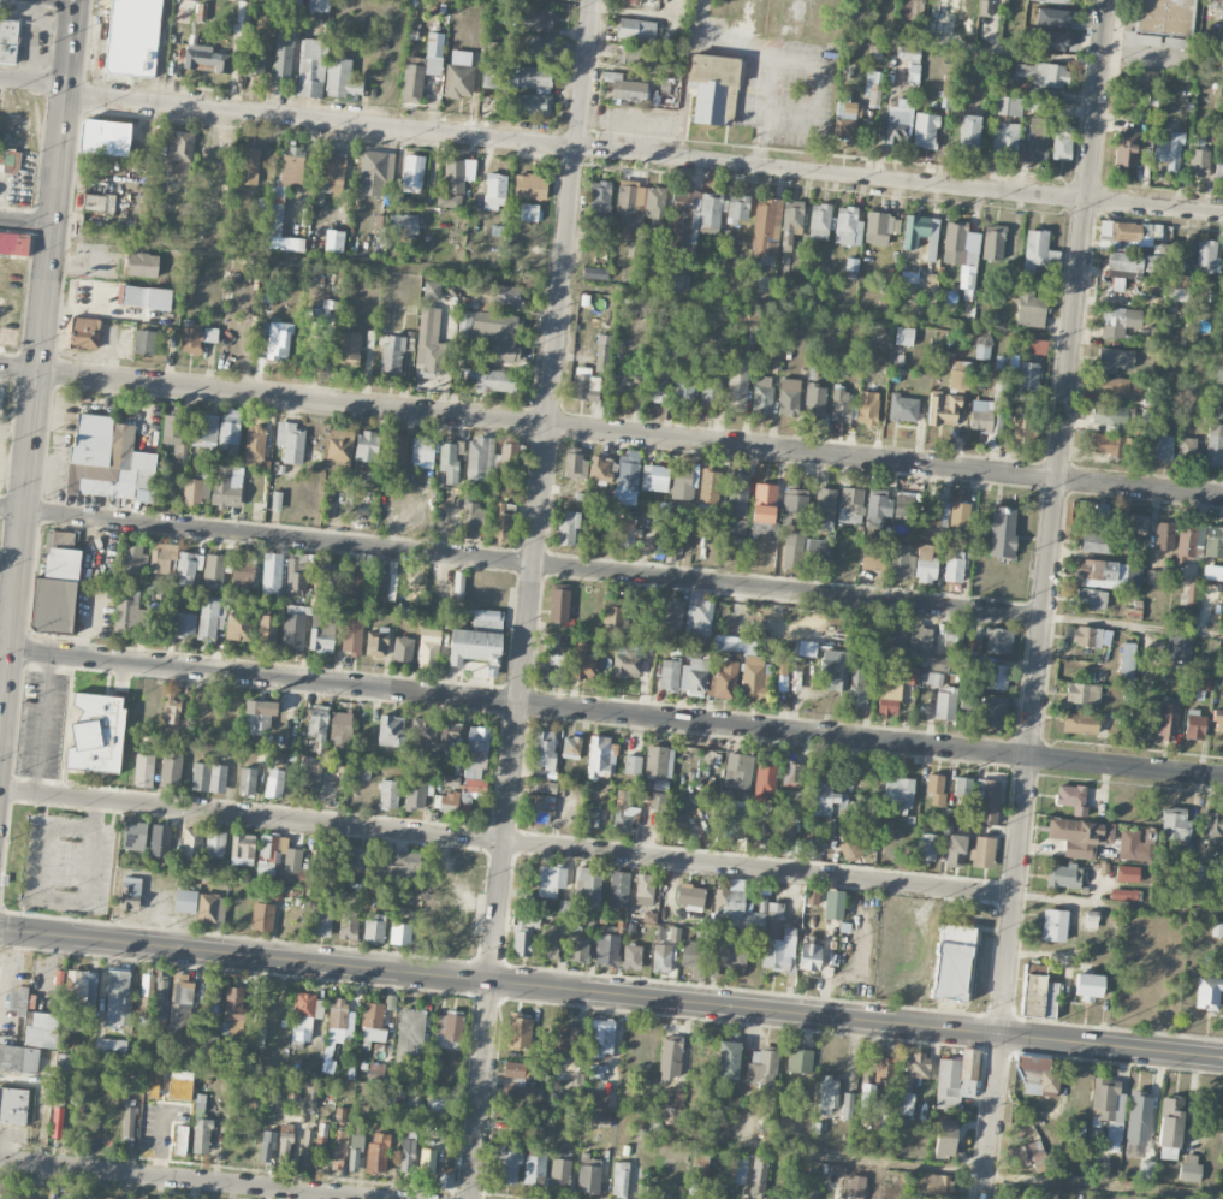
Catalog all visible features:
building: (192, 0)
building: (954, 0)
building: (1051, 0)
building: (1215, 1)
building: (291, 5)
building: (319, 6)
building: (908, 8)
road: (589, 10)
building: (201, 11)
building: (986, 12)
building: (1164, 17)
building: (1051, 18)
building: (536, 20)
building: (636, 30)
building: (133, 37)
building: (1049, 40)
building: (1140, 40)
building: (8, 42)
building: (539, 47)
building: (493, 51)
building: (283, 54)
building: (630, 54)
road: (1034, 54)
road: (767, 55)
building: (206, 59)
building: (255, 60)
building: (422, 67)
building: (311, 69)
building: (1040, 73)
building: (517, 77)
building: (340, 79)
building: (459, 79)
road: (31, 82)
building: (1147, 84)
building: (873, 88)
building: (624, 89)
building: (713, 89)
building: (532, 105)
building: (1009, 106)
building: (845, 120)
building: (898, 121)
building: (925, 131)
building: (968, 132)
building: (103, 137)
building: (1004, 140)
building: (1034, 142)
building: (1061, 142)
building: (1126, 149)
building: (1169, 152)
building: (180, 153)
road: (642, 153)
building: (10, 161)
building: (1198, 162)
building: (248, 166)
building: (1218, 166)
building: (292, 167)
building: (333, 172)
building: (458, 172)
building: (373, 173)
building: (412, 173)
building: (529, 186)
building: (494, 191)
building: (449, 201)
building: (600, 201)
building: (99, 203)
building: (639, 206)
building: (737, 209)
road: (25, 220)
building: (819, 221)
building: (710, 222)
building: (791, 222)
building: (403, 226)
building: (766, 226)
building: (848, 227)
building: (880, 228)
building: (275, 231)
building: (1128, 232)
building: (921, 235)
building: (333, 241)
building: (13, 243)
building: (958, 243)
building: (992, 243)
building: (1035, 250)
building: (1206, 256)
building: (1136, 261)
building: (142, 265)
building: (754, 267)
building: (594, 273)
building: (673, 280)
building: (1179, 287)
building: (431, 291)
building: (495, 296)
building: (147, 297)
building: (1029, 309)
building: (321, 310)
building: (1115, 322)
building: (84, 333)
building: (209, 334)
building: (497, 334)
building: (903, 336)
building: (228, 338)
building: (190, 339)
building: (274, 340)
building: (144, 343)
building: (429, 344)
building: (1034, 346)
building: (982, 348)
building: (349, 349)
building: (391, 354)
building: (602, 354)
road: (36, 364)
building: (1027, 375)
building: (623, 379)
building: (494, 380)
building: (960, 380)
building: (657, 384)
building: (737, 384)
building: (1116, 386)
building: (584, 387)
building: (683, 387)
building: (710, 392)
building: (762, 394)
building: (789, 397)
building: (814, 402)
building: (841, 405)
building: (867, 408)
building: (903, 408)
building: (943, 409)
building: (986, 414)
building: (1116, 417)
building: (1021, 427)
building: (228, 428)
building: (204, 431)
road: (611, 432)
building: (173, 434)
building: (290, 441)
building: (1104, 444)
building: (254, 446)
building: (367, 446)
building: (1163, 446)
building: (1215, 446)
building: (339, 447)
building: (422, 450)
building: (1186, 450)
building: (397, 451)
building: (479, 459)
building: (506, 459)
building: (108, 461)
building: (449, 462)
building: (575, 463)
building: (600, 468)
building: (203, 470)
building: (627, 479)
building: (654, 479)
building: (682, 483)
building: (226, 486)
building: (708, 487)
building: (192, 491)
building: (737, 495)
building: (764, 503)
building: (792, 504)
building: (850, 506)
building: (824, 509)
building: (877, 509)
building: (903, 509)
building: (933, 512)
building: (958, 515)
building: (1100, 517)
building: (471, 520)
building: (500, 522)
building: (1128, 522)
building: (737, 527)
building: (568, 528)
building: (762, 529)
building: (1002, 532)
building: (624, 533)
building: (1164, 536)
building: (61, 539)
building: (1097, 542)
building: (1213, 542)
building: (1185, 544)
building: (673, 545)
building: (792, 550)
building: (818, 551)
building: (872, 556)
building: (132, 559)
building: (161, 562)
road: (521, 563)
building: (900, 563)
building: (925, 565)
building: (954, 566)
building: (188, 568)
building: (214, 571)
building: (242, 572)
building: (297, 572)
building: (1212, 572)
building: (272, 575)
building: (1103, 575)
building: (325, 577)
building: (457, 581)
building: (356, 583)
building: (386, 587)
building: (57, 590)
building: (1191, 592)
road: (528, 599)
road: (1044, 599)
building: (1091, 599)
building: (558, 605)
building: (129, 612)
building: (672, 615)
building: (697, 616)
building: (183, 619)
building: (210, 619)
building: (487, 621)
building: (612, 622)
road: (1133, 625)
building: (239, 627)
building: (266, 631)
building: (292, 631)
building: (321, 631)
building: (897, 634)
building: (351, 635)
building: (952, 635)
building: (1086, 637)
building: (920, 640)
building: (998, 640)
building: (376, 642)
building: (734, 645)
building: (428, 648)
building: (475, 648)
building: (806, 648)
building: (1179, 648)
building: (402, 649)
building: (556, 655)
building: (625, 660)
building: (583, 664)
building: (1126, 664)
building: (833, 670)
building: (669, 675)
building: (693, 675)
building: (995, 677)
building: (754, 678)
building: (930, 679)
building: (725, 681)
building: (1205, 681)
building: (856, 688)
building: (1082, 694)
building: (889, 696)
building: (944, 706)
building: (170, 707)
road: (611, 711)
building: (989, 713)
building: (259, 717)
building: (1168, 719)
building: (317, 722)
building: (1217, 722)
road: (43, 723)
building: (1080, 724)
building: (1194, 724)
building: (339, 729)
building: (390, 731)
building: (96, 734)
building: (422, 735)
building: (450, 735)
building: (571, 747)
building: (544, 749)
building: (600, 756)
building: (659, 761)
building: (633, 765)
building: (171, 768)
building: (473, 770)
building: (143, 771)
building: (361, 771)
building: (738, 771)
building: (309, 772)
building: (792, 774)
building: (209, 778)
building: (450, 780)
building: (247, 782)
building: (546, 782)
building: (274, 783)
building: (765, 783)
building: (660, 785)
building: (936, 789)
building: (962, 789)
building: (898, 790)
building: (388, 794)
building: (415, 795)
building: (824, 797)
building: (1071, 799)
building: (657, 801)
building: (445, 802)
building: (985, 802)
building: (538, 808)
building: (624, 813)
building: (590, 819)
building: (713, 820)
building: (734, 823)
building: (1175, 826)
building: (1216, 826)
building: (786, 836)
building: (1080, 836)
building: (133, 837)
building: (159, 841)
building: (191, 843)
road: (506, 843)
building: (215, 844)
building: (1135, 844)
building: (242, 849)
building: (927, 849)
building: (850, 850)
building: (956, 850)
building: (269, 853)
building: (982, 853)
building: (358, 859)
building: (399, 867)
building: (1205, 873)
building: (1127, 874)
building: (291, 875)
building: (1063, 877)
building: (550, 880)
building: (588, 888)
building: (618, 890)
building: (643, 890)
building: (130, 894)
building: (1123, 895)
building: (690, 896)
building: (812, 896)
building: (185, 901)
building: (833, 904)
road: (1118, 906)
building: (735, 908)
building: (210, 909)
building: (262, 916)
building: (1090, 919)
building: (773, 920)
building: (321, 921)
building: (349, 925)
building: (1053, 925)
building: (374, 928)
building: (400, 933)
building: (523, 933)
building: (550, 942)
building: (578, 945)
building: (607, 946)
building: (777, 952)
building: (691, 955)
building: (725, 956)
building: (631, 957)
building: (809, 957)
building: (661, 958)
building: (951, 962)
building: (1087, 986)
building: (1038, 993)
building: (1207, 993)
road: (611, 995)
building: (77, 997)
building: (213, 997)
building: (118, 998)
building: (154, 1001)
building: (18, 1002)
building: (262, 1002)
building: (233, 1004)
building: (308, 1007)
building: (179, 1010)
building: (375, 1019)
building: (339, 1022)
building: (41, 1029)
building: (447, 1032)
building: (518, 1032)
building: (410, 1035)
building: (569, 1039)
building: (601, 1039)
building: (209, 1043)
building: (109, 1049)
building: (18, 1059)
building: (670, 1059)
building: (728, 1059)
building: (800, 1061)
building: (884, 1067)
building: (915, 1067)
building: (515, 1069)
building: (761, 1069)
building: (595, 1073)
road: (22, 1078)
building: (1037, 1078)
building: (956, 1080)
building: (292, 1090)
building: (520, 1092)
building: (829, 1094)
building: (867, 1094)
building: (797, 1097)
building: (596, 1099)
building: (397, 1100)
building: (310, 1102)
building: (908, 1102)
building: (444, 1103)
building: (200, 1105)
building: (13, 1106)
building: (847, 1106)
building: (1108, 1108)
building: (572, 1115)
building: (672, 1116)
building: (1138, 1118)
building: (129, 1122)
building: (57, 1123)
road: (40, 1124)
building: (1169, 1128)
building: (1075, 1132)
building: (322, 1134)
building: (201, 1135)
building: (944, 1138)
building: (307, 1140)
building: (284, 1144)
building: (339, 1150)
building: (266, 1152)
building: (355, 1153)
building: (378, 1155)
building: (406, 1156)
building: (1029, 1156)
road: (849, 1158)
building: (700, 1161)
building: (427, 1162)
building: (506, 1164)
building: (560, 1167)
building: (533, 1168)
building: (1189, 1168)
building: (1145, 1170)
building: (740, 1171)
building: (588, 1174)
building: (758, 1176)
building: (445, 1177)
road: (188, 1179)
building: (619, 1180)
building: (931, 1185)
building: (2, 1187)
building: (812, 1194)
building: (25, 1197)
building: (76, 1198)
building: (106, 1198)
building: (137, 1198)

